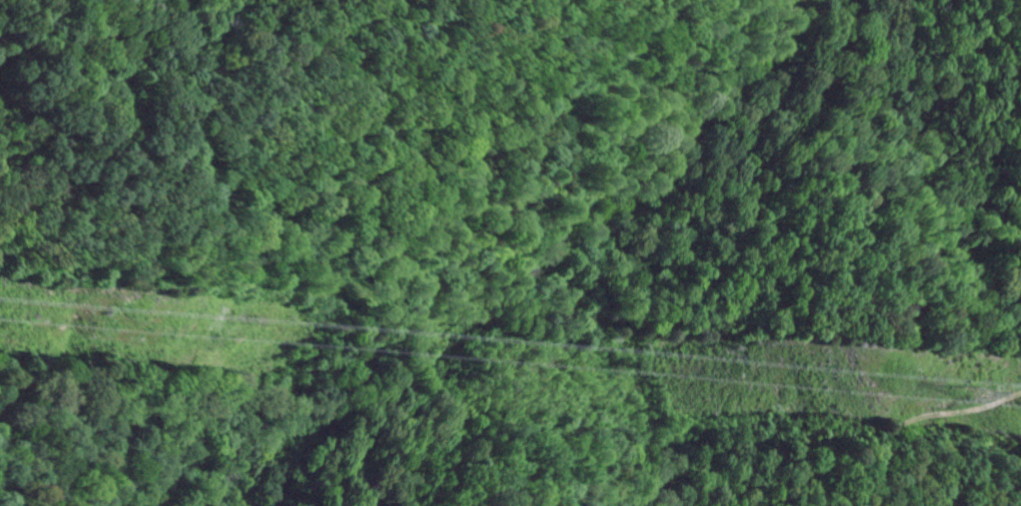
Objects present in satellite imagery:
power tower: (968, 396)

